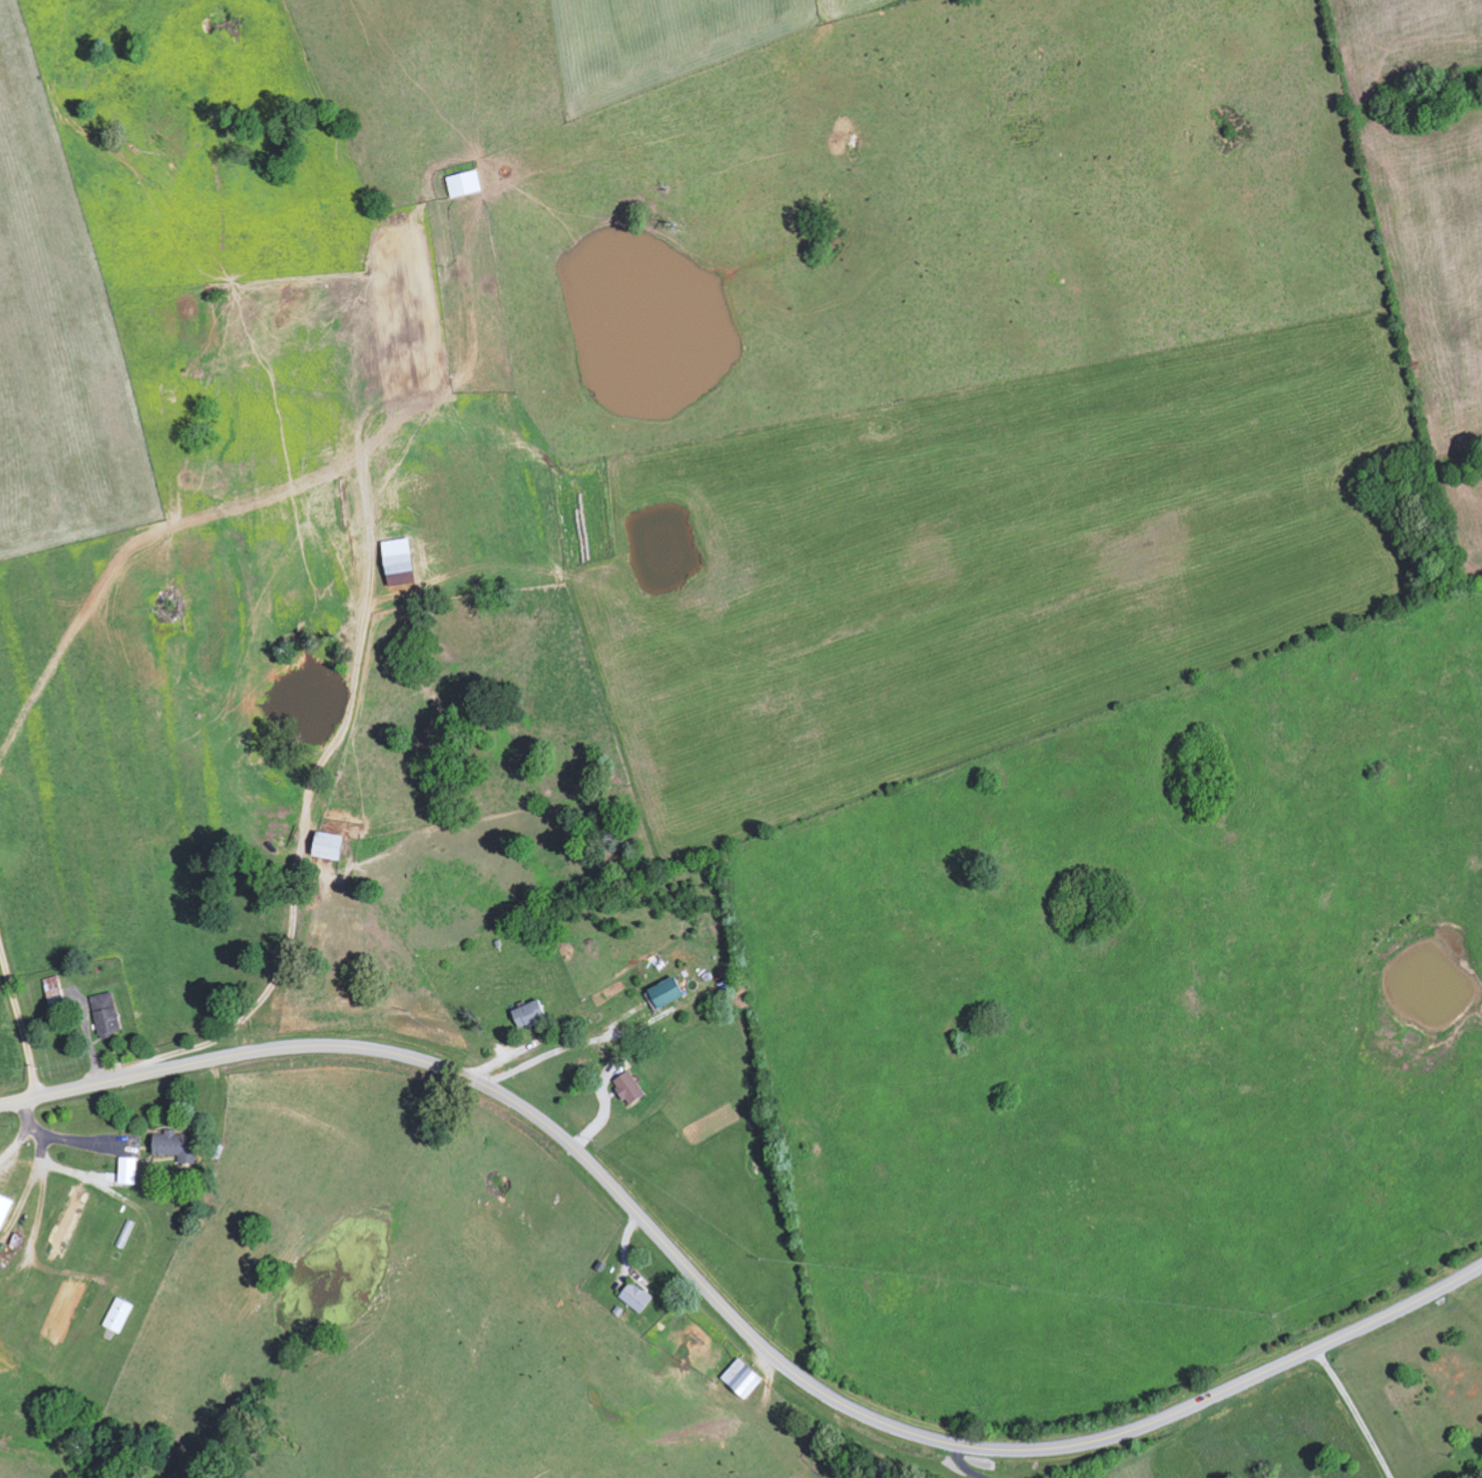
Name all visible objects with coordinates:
building: (463, 183)
road: (531, 363)
building: (396, 556)
road: (378, 656)
building: (327, 846)
building: (52, 991)
building: (665, 992)
building: (528, 1014)
building: (105, 1015)
road: (17, 1028)
road: (567, 1047)
building: (628, 1088)
road: (23, 1134)
road: (73, 1146)
building: (175, 1146)
building: (126, 1171)
building: (4, 1209)
building: (635, 1297)
road: (731, 1311)
building: (117, 1315)
road: (1354, 1412)
road: (963, 1466)

